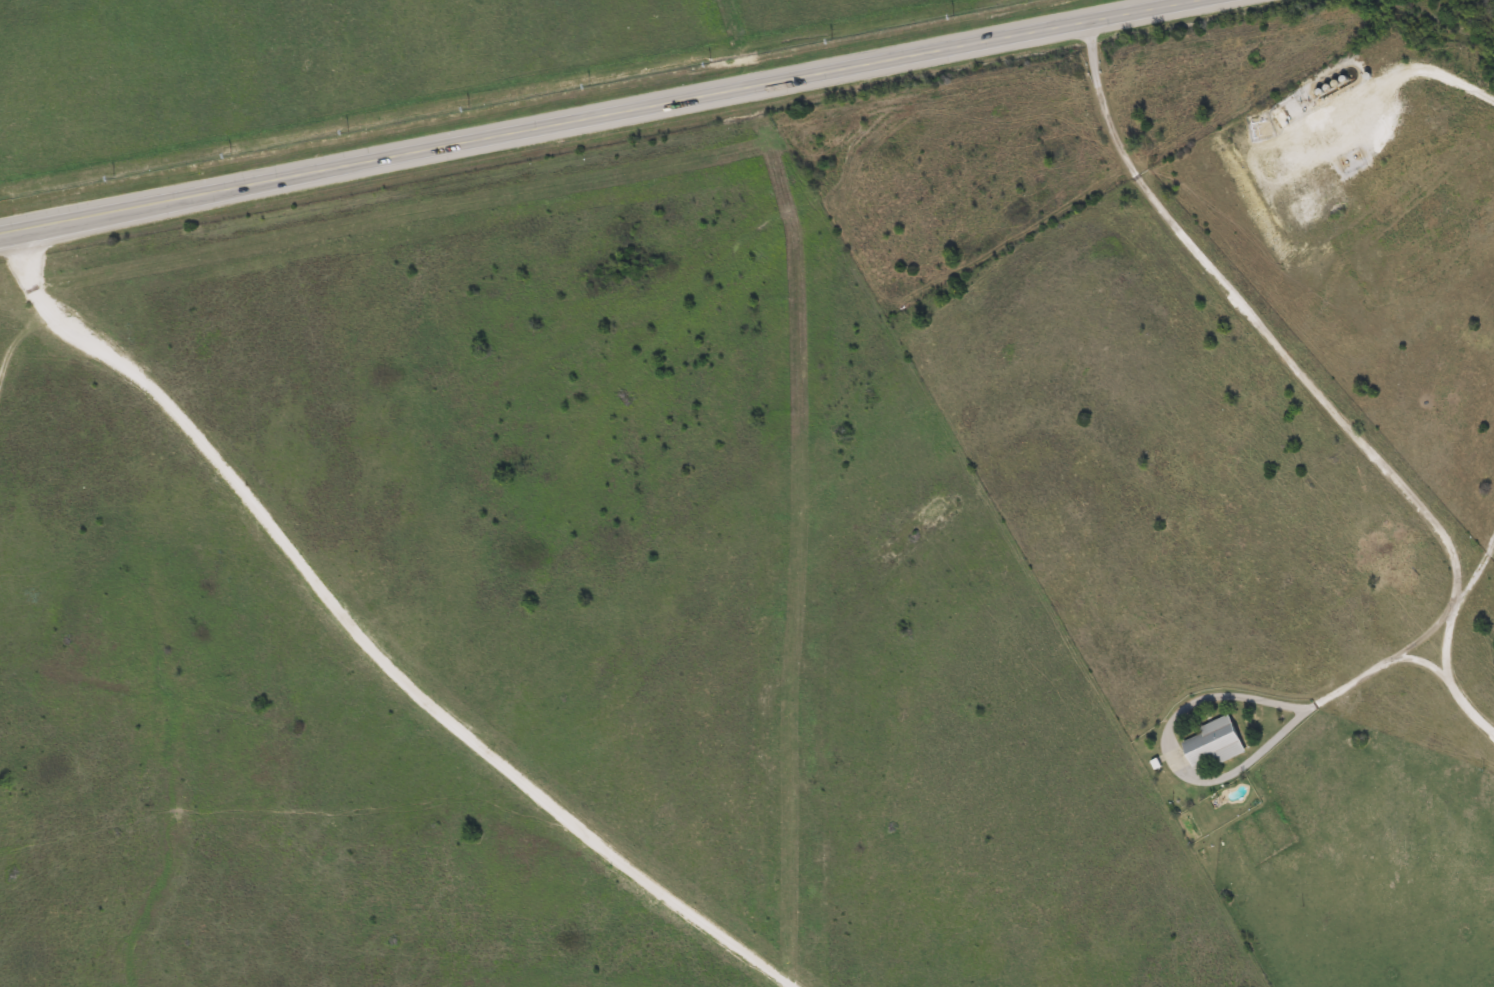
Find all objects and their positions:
road: (602, 117)
road: (23, 336)
road: (1328, 398)
road: (1458, 599)
road: (368, 639)
building: (1209, 743)
road: (1205, 774)

